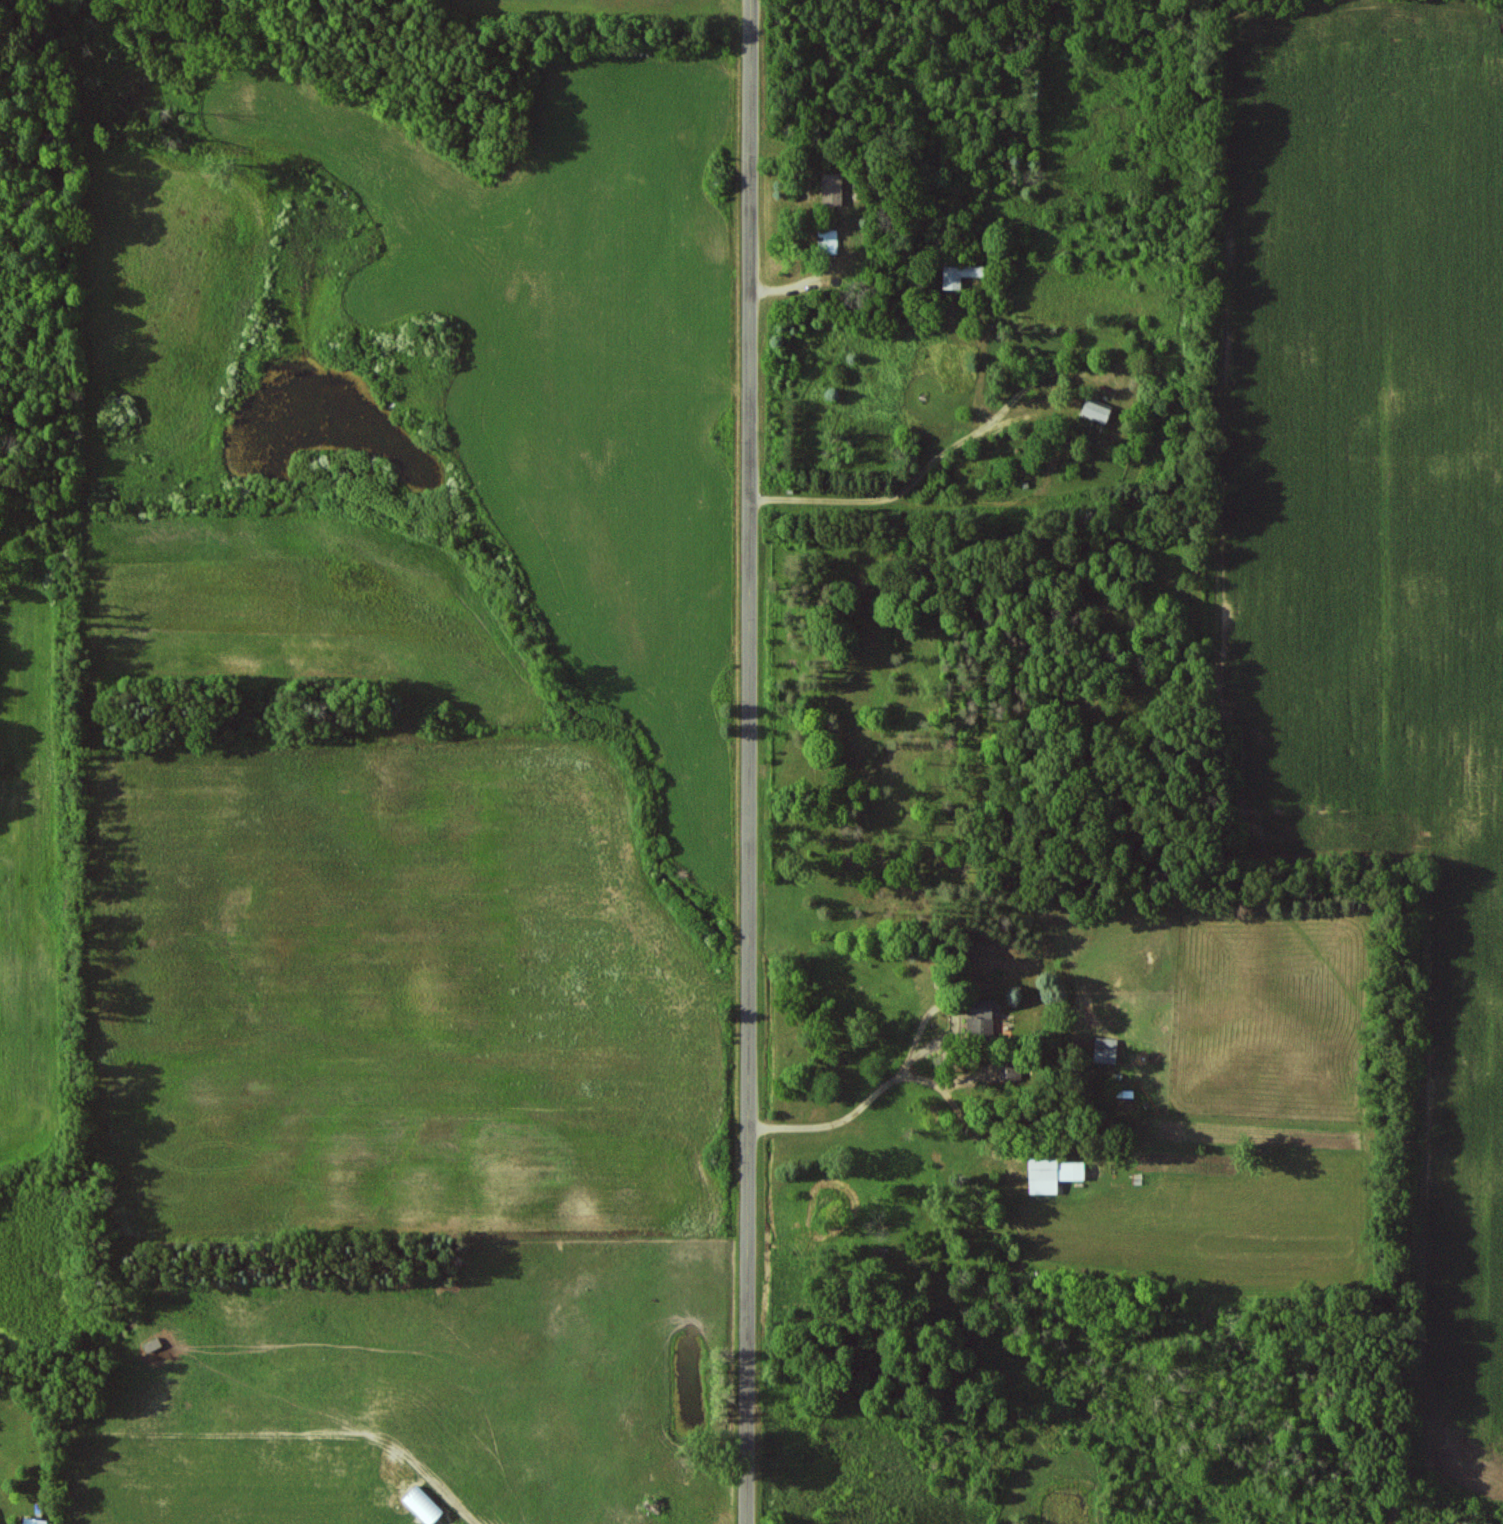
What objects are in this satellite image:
building: (833, 189)
building: (958, 275)
building: (1100, 412)
road: (926, 478)
park: (987, 687)
road: (748, 762)
building: (983, 1021)
building: (1109, 1051)
building: (1011, 1072)
road: (849, 1117)
building: (1055, 1175)
building: (425, 1506)
building: (36, 1521)

